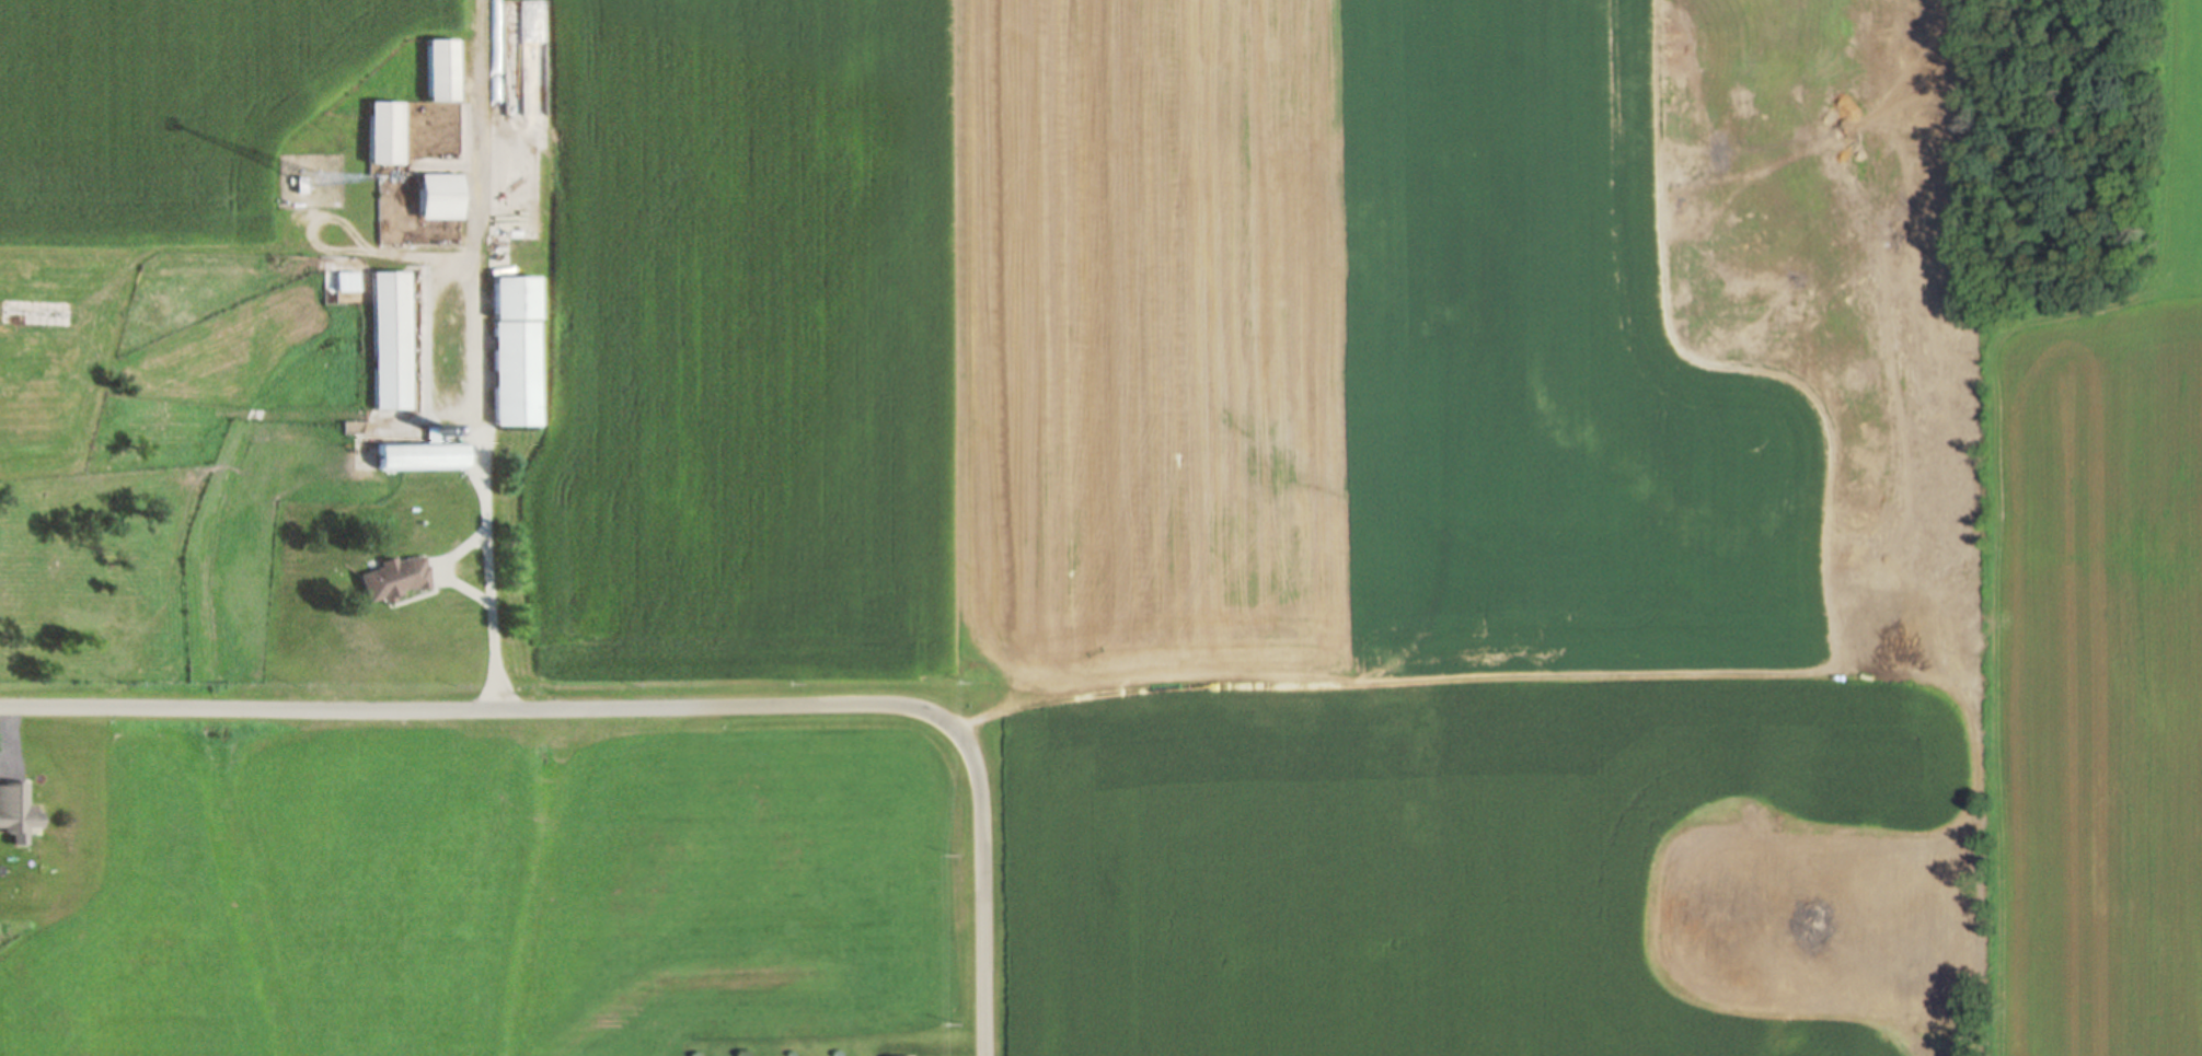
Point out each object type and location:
road: (477, 22)
building: (442, 69)
building: (385, 132)
building: (301, 184)
building: (440, 196)
building: (346, 280)
building: (390, 339)
building: (516, 349)
road: (479, 376)
building: (419, 455)
building: (397, 576)
road: (1222, 687)
road: (647, 706)
building: (16, 808)

